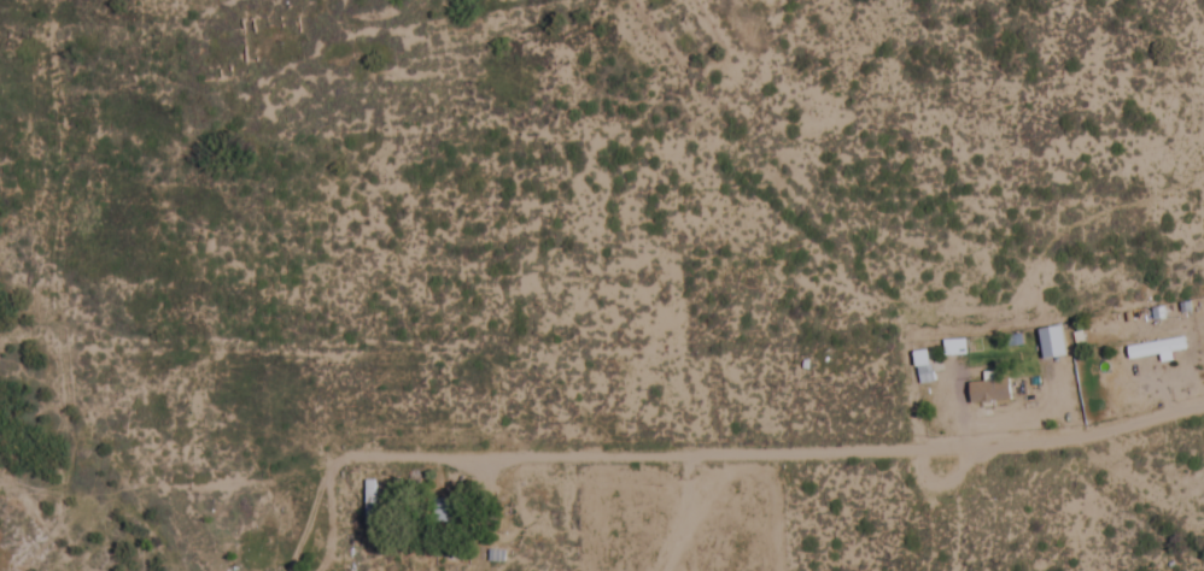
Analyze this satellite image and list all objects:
building: (928, 375)
building: (990, 392)

